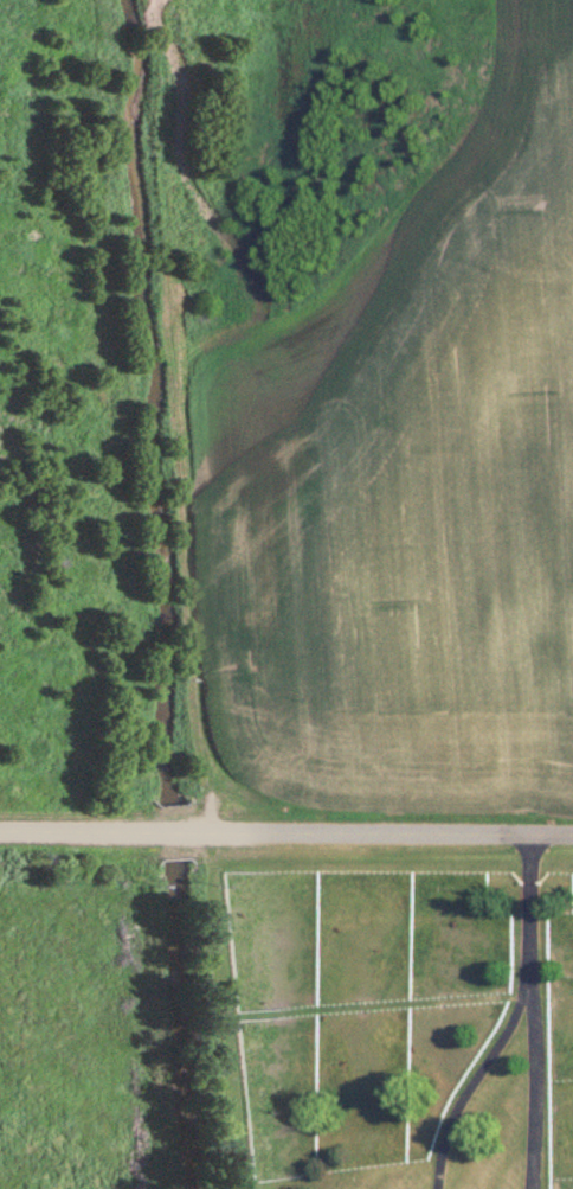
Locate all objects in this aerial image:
road: (70, 832)
road: (169, 833)
road: (385, 837)
road: (532, 1014)
road: (470, 1082)

